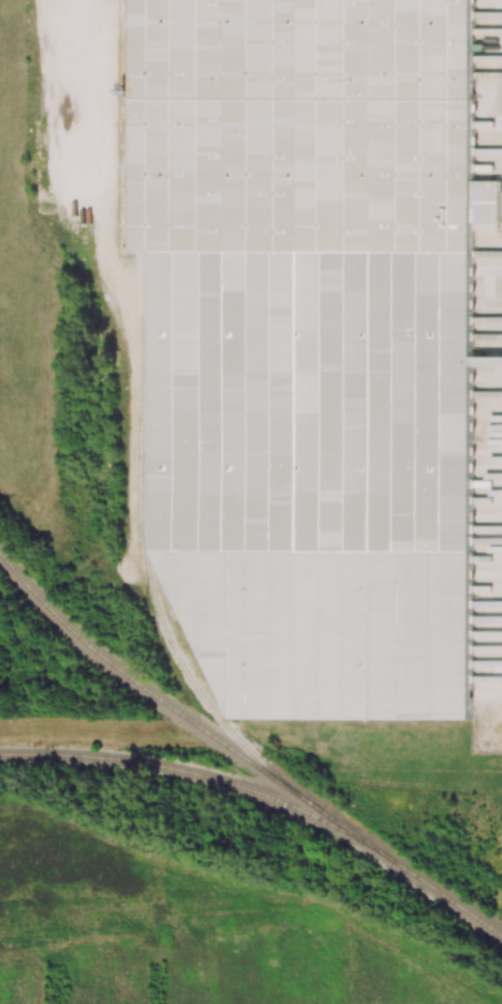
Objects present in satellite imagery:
building: (314, 344)
road: (488, 362)
railway: (143, 533)
railway: (242, 756)
railway: (205, 777)

